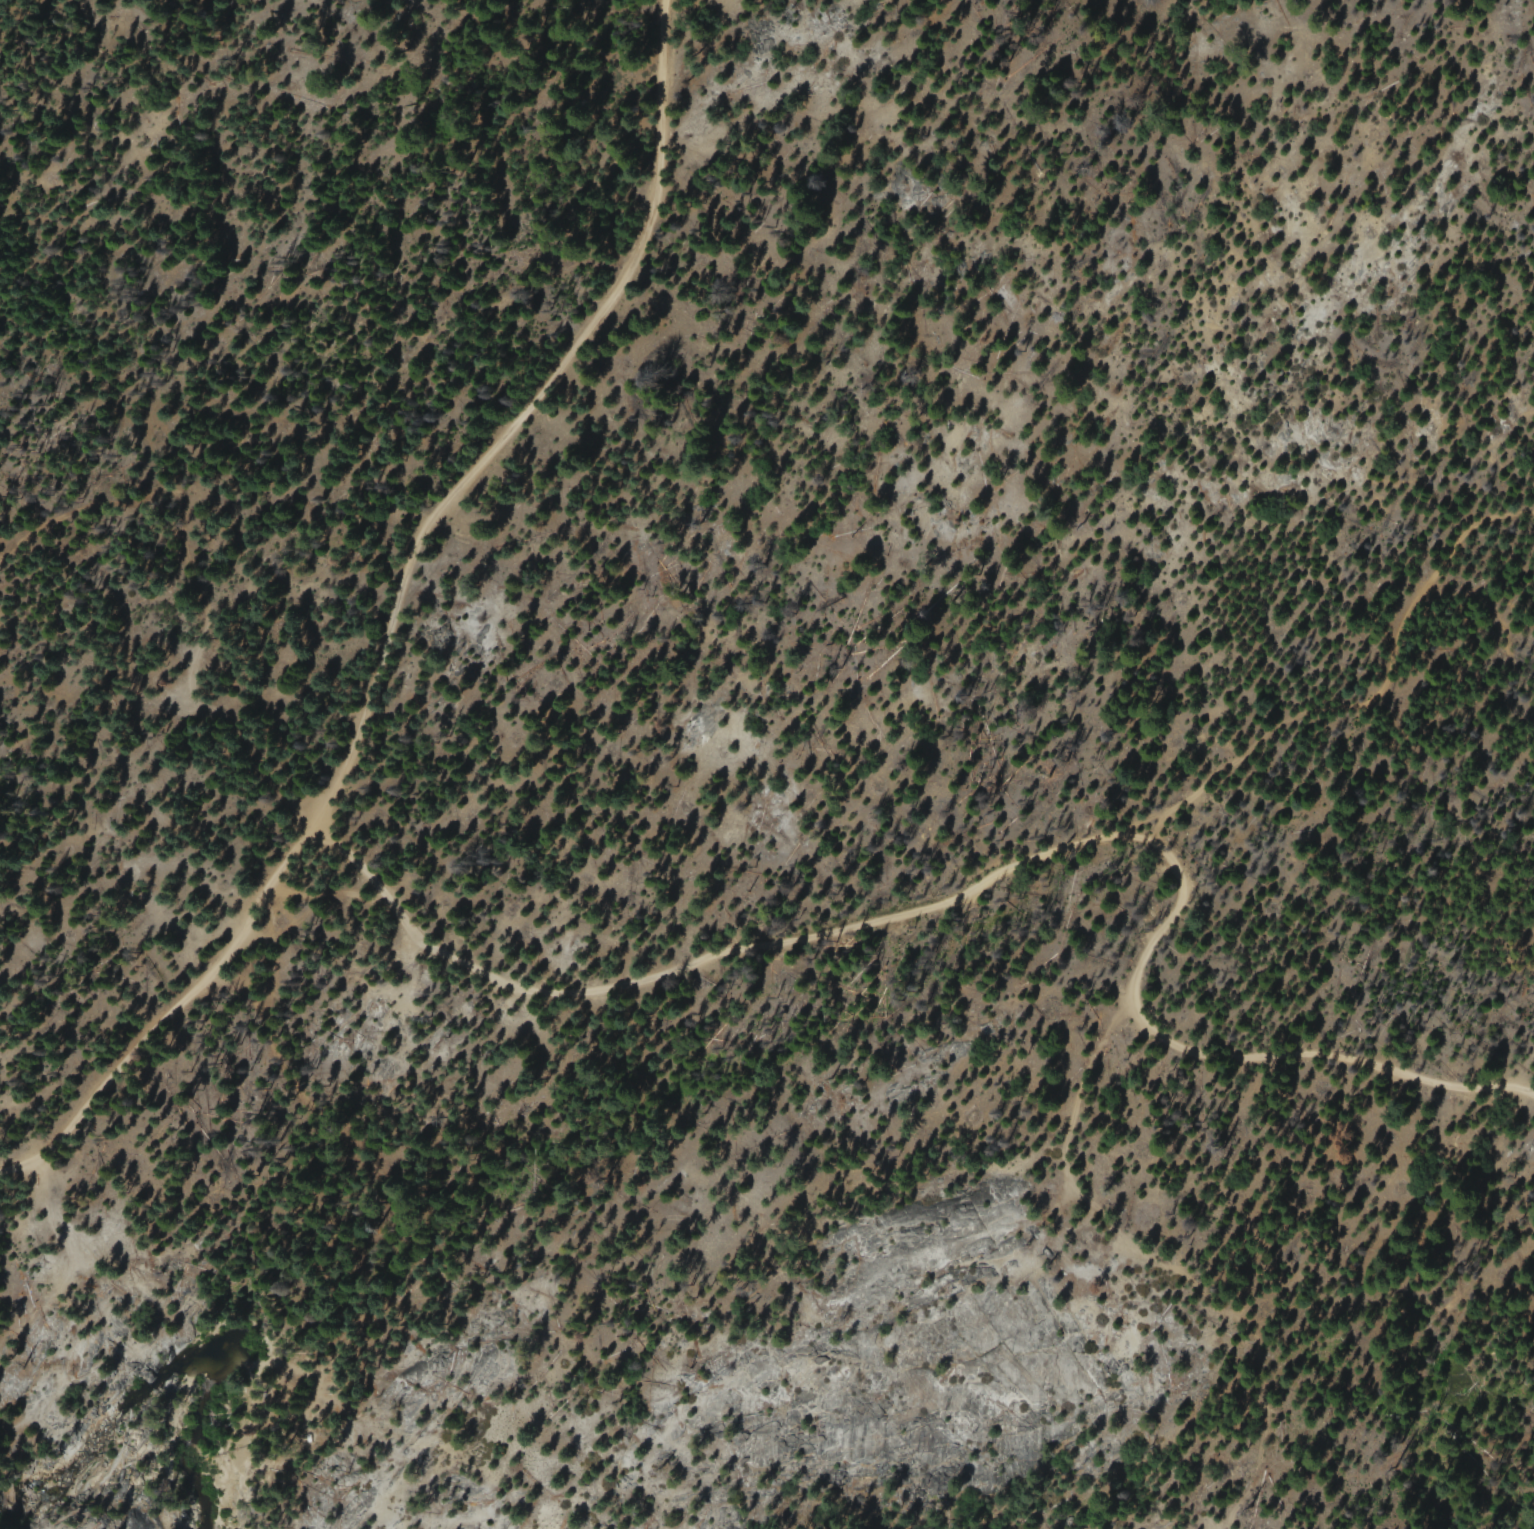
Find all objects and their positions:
road: (519, 413)
road: (1002, 874)
road: (173, 1005)

